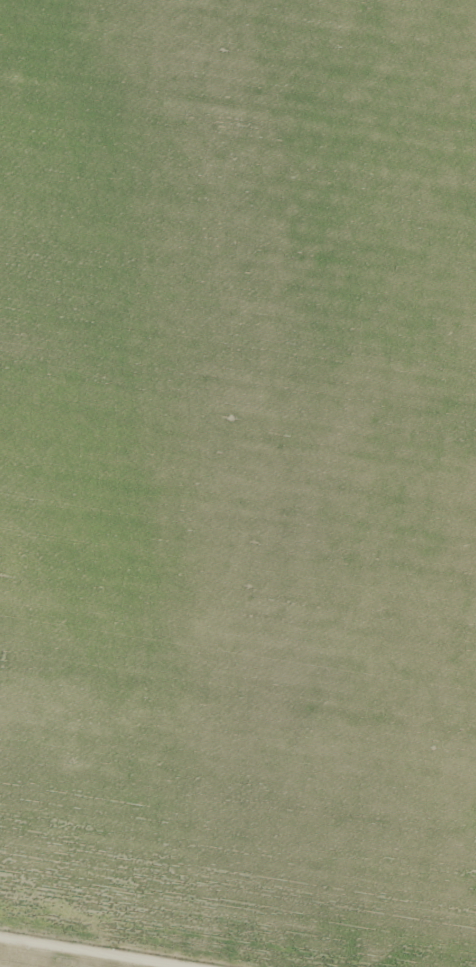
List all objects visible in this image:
road: (58, 957)

